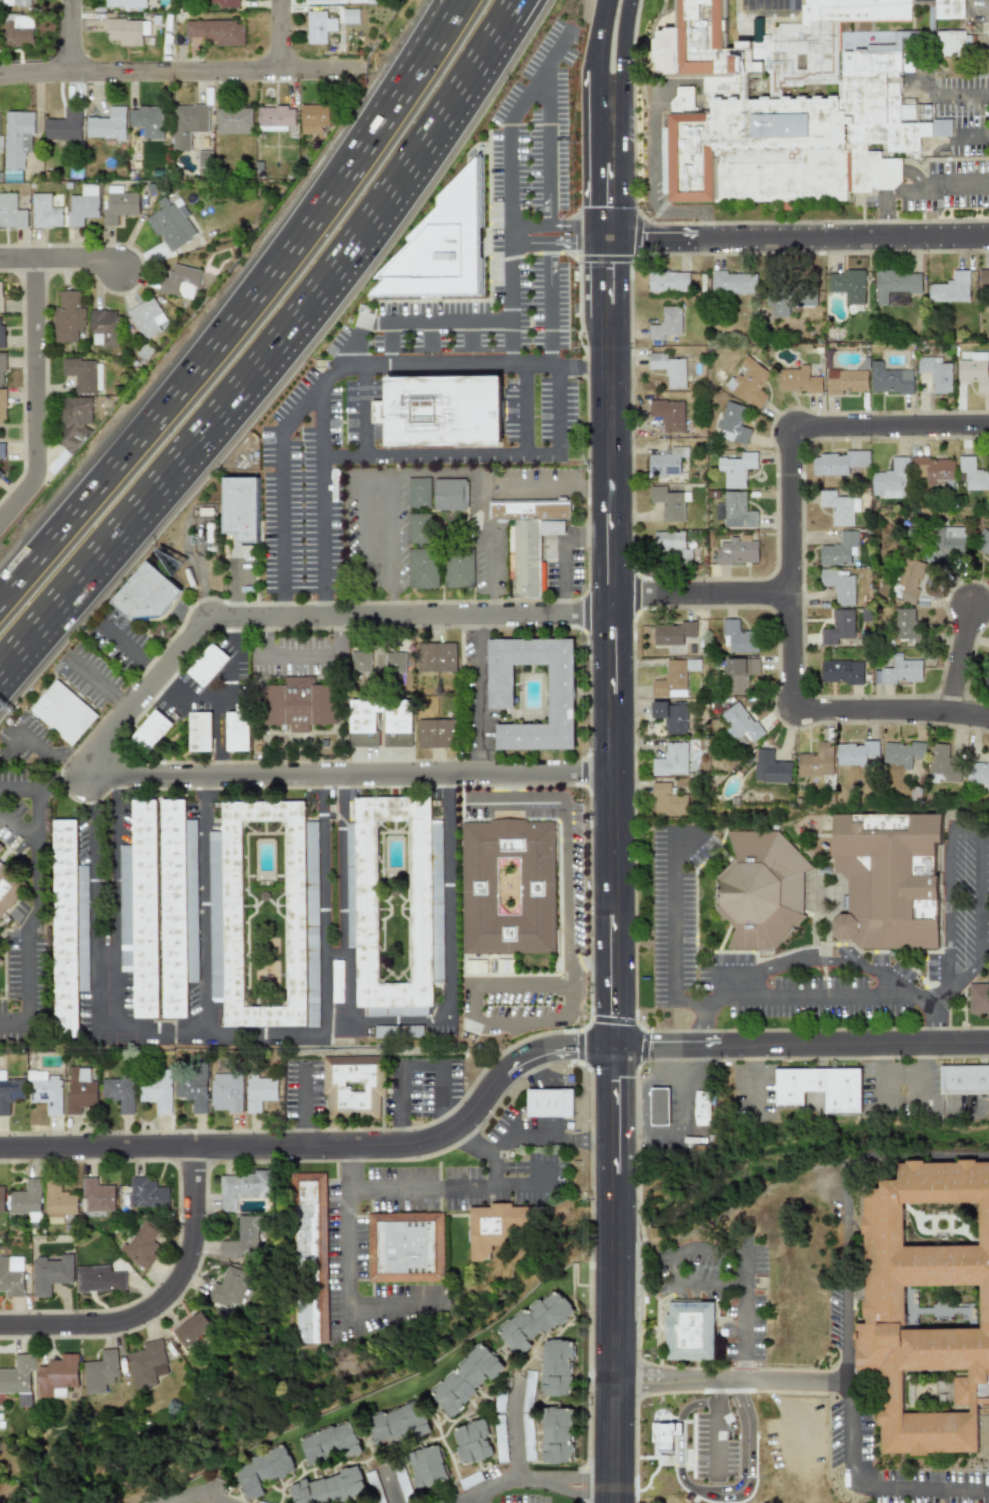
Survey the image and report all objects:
building: (323, 0)
building: (363, 1)
building: (16, 3)
building: (124, 3)
building: (223, 3)
road: (772, 4)
road: (988, 5)
building: (954, 9)
building: (350, 16)
building: (318, 27)
building: (18, 31)
building: (126, 31)
building: (216, 32)
road: (279, 33)
road: (74, 35)
building: (695, 43)
building: (956, 45)
building: (827, 50)
road: (477, 55)
road: (484, 55)
road: (168, 68)
road: (949, 95)
building: (313, 117)
building: (275, 118)
road: (610, 118)
building: (233, 119)
building: (146, 120)
building: (188, 124)
building: (64, 125)
building: (108, 125)
road: (969, 139)
building: (17, 142)
building: (803, 142)
road: (549, 145)
road: (347, 148)
road: (368, 152)
road: (508, 177)
road: (918, 189)
building: (117, 203)
building: (83, 205)
traffic signals: (610, 209)
building: (12, 212)
building: (44, 212)
building: (170, 224)
road: (583, 224)
road: (530, 225)
road: (799, 237)
traffic signals: (647, 239)
road: (580, 243)
road: (529, 244)
building: (443, 247)
road: (60, 258)
traffic signals: (610, 268)
building: (983, 278)
building: (180, 282)
building: (668, 282)
building: (733, 283)
building: (895, 284)
building: (847, 285)
building: (950, 288)
building: (804, 294)
building: (1, 296)
road: (549, 303)
building: (67, 314)
building: (146, 317)
road: (411, 323)
building: (666, 324)
building: (103, 328)
building: (2, 332)
road: (470, 335)
road: (429, 336)
road: (437, 349)
road: (391, 359)
road: (470, 364)
building: (3, 368)
building: (668, 369)
building: (974, 371)
building: (935, 373)
building: (83, 374)
building: (889, 379)
building: (798, 380)
building: (844, 381)
building: (748, 383)
road: (33, 394)
road: (522, 398)
road: (232, 401)
building: (3, 405)
road: (556, 408)
road: (362, 410)
building: (443, 410)
building: (667, 414)
building: (72, 421)
building: (732, 424)
road: (808, 428)
building: (2, 448)
road: (128, 448)
road: (438, 453)
building: (665, 462)
building: (837, 463)
building: (735, 468)
building: (932, 469)
road: (279, 472)
road: (414, 472)
building: (1, 474)
building: (972, 474)
building: (890, 480)
road: (595, 483)
road: (528, 486)
road: (318, 490)
building: (423, 494)
building: (454, 495)
building: (668, 502)
road: (363, 507)
building: (838, 507)
road: (478, 508)
building: (734, 510)
building: (529, 511)
building: (247, 513)
building: (423, 529)
road: (391, 533)
road: (585, 535)
building: (945, 542)
building: (982, 543)
building: (669, 545)
building: (736, 550)
building: (838, 550)
building: (510, 552)
building: (527, 558)
building: (428, 560)
building: (463, 560)
road: (560, 564)
road: (491, 567)
building: (463, 576)
building: (428, 577)
building: (908, 580)
building: (839, 585)
road: (233, 589)
building: (149, 600)
road: (491, 604)
road: (561, 604)
road: (391, 605)
road: (280, 607)
road: (319, 607)
road: (317, 618)
road: (478, 623)
building: (904, 624)
building: (838, 627)
building: (672, 634)
road: (337, 635)
road: (262, 636)
building: (738, 637)
road: (118, 641)
road: (611, 642)
road: (299, 653)
building: (435, 657)
road: (233, 658)
road: (791, 658)
road: (961, 660)
building: (359, 662)
building: (394, 662)
building: (207, 665)
road: (149, 669)
building: (898, 671)
building: (841, 672)
building: (738, 674)
road: (91, 677)
building: (504, 678)
building: (670, 680)
building: (986, 680)
road: (478, 690)
road: (191, 700)
building: (301, 704)
road: (123, 705)
building: (65, 706)
building: (669, 715)
building: (739, 723)
building: (362, 729)
building: (150, 731)
building: (237, 731)
building: (435, 733)
building: (199, 734)
road: (29, 742)
building: (902, 753)
building: (856, 754)
road: (67, 756)
building: (670, 760)
building: (816, 760)
road: (479, 761)
building: (941, 764)
building: (770, 768)
road: (92, 772)
building: (978, 773)
road: (354, 774)
road: (58, 780)
road: (501, 800)
road: (536, 800)
building: (667, 800)
road: (17, 830)
road: (978, 832)
road: (34, 841)
building: (0, 846)
building: (889, 874)
building: (540, 882)
road: (565, 885)
building: (10, 886)
building: (764, 886)
road: (448, 891)
building: (368, 896)
road: (341, 902)
road: (94, 904)
road: (117, 904)
road: (323, 904)
road: (203, 905)
building: (147, 909)
building: (175, 909)
building: (234, 909)
building: (67, 923)
road: (675, 929)
building: (0, 960)
road: (811, 961)
building: (0, 962)
road: (592, 963)
building: (214, 973)
road: (570, 976)
road: (28, 978)
building: (336, 982)
road: (811, 997)
building: (978, 998)
road: (708, 1003)
road: (933, 1011)
traffic signals: (616, 1015)
road: (471, 1017)
road: (701, 1026)
road: (9, 1027)
road: (277, 1033)
road: (802, 1044)
traffic signals: (653, 1047)
traffic signals: (577, 1048)
road: (420, 1065)
building: (965, 1076)
traffic signals: (616, 1082)
road: (745, 1082)
building: (353, 1084)
building: (821, 1084)
building: (192, 1086)
road: (442, 1086)
building: (44, 1090)
building: (154, 1090)
building: (79, 1091)
road: (399, 1091)
building: (225, 1092)
building: (259, 1092)
building: (9, 1093)
building: (118, 1093)
building: (554, 1099)
road: (918, 1105)
building: (659, 1107)
road: (299, 1108)
road: (445, 1119)
road: (400, 1131)
road: (565, 1138)
road: (469, 1143)
road: (325, 1146)
road: (494, 1152)
road: (856, 1160)
road: (350, 1164)
road: (544, 1175)
road: (446, 1187)
building: (243, 1188)
building: (146, 1193)
building: (95, 1195)
building: (2, 1199)
building: (26, 1200)
building: (58, 1203)
building: (499, 1225)
building: (243, 1239)
road: (747, 1242)
building: (142, 1243)
building: (408, 1246)
road: (346, 1251)
building: (312, 1257)
building: (50, 1273)
road: (615, 1275)
building: (11, 1278)
building: (98, 1279)
road: (683, 1281)
building: (230, 1289)
road: (158, 1301)
building: (927, 1302)
road: (745, 1304)
road: (388, 1305)
building: (539, 1320)
road: (845, 1320)
building: (698, 1328)
building: (192, 1329)
building: (146, 1364)
building: (560, 1368)
building: (100, 1371)
road: (744, 1371)
road: (846, 1375)
building: (56, 1376)
building: (18, 1379)
building: (470, 1379)
road: (730, 1382)
road: (717, 1392)
building: (401, 1426)
road: (514, 1426)
road: (851, 1431)
building: (664, 1434)
building: (561, 1435)
building: (333, 1443)
building: (476, 1443)
building: (430, 1467)
building: (266, 1471)
road: (518, 1478)
road: (855, 1483)
road: (565, 1485)
road: (934, 1485)
building: (333, 1489)
road: (199, 1490)
road: (712, 1493)
road: (458, 1498)
road: (476, 1498)

